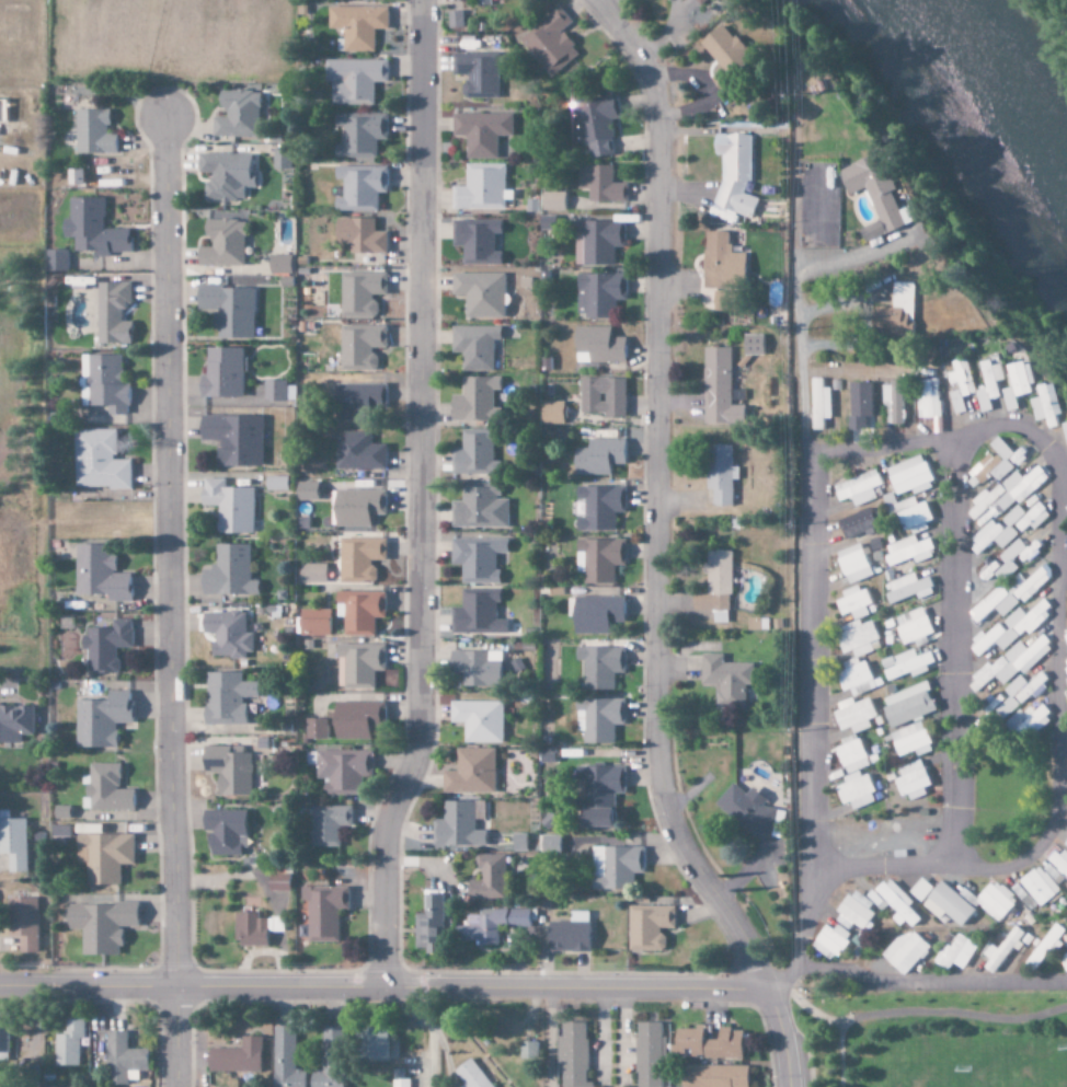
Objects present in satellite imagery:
building: (700, 1)
building: (481, 2)
building: (454, 19)
building: (355, 26)
building: (549, 43)
building: (722, 53)
building: (475, 74)
building: (353, 80)
river: (973, 101)
building: (237, 115)
building: (592, 124)
building: (92, 132)
building: (480, 132)
building: (358, 136)
building: (280, 159)
building: (735, 173)
building: (223, 176)
building: (598, 184)
building: (358, 187)
building: (479, 187)
building: (881, 196)
building: (551, 201)
building: (92, 228)
building: (358, 235)
building: (475, 241)
building: (596, 242)
building: (221, 244)
building: (56, 261)
building: (721, 263)
building: (278, 265)
road: (802, 292)
building: (359, 293)
building: (597, 293)
building: (479, 294)
building: (725, 304)
building: (227, 310)
building: (902, 312)
building: (112, 313)
building: (753, 345)
building: (359, 346)
building: (473, 346)
building: (596, 346)
building: (220, 373)
building: (966, 384)
building: (1025, 384)
building: (996, 385)
building: (719, 389)
building: (275, 391)
building: (600, 396)
building: (357, 400)
building: (473, 400)
building: (933, 400)
building: (897, 402)
building: (821, 404)
building: (862, 405)
building: (1053, 406)
building: (551, 413)
road: (940, 438)
building: (233, 439)
building: (357, 452)
building: (473, 453)
building: (598, 456)
building: (99, 461)
building: (1002, 462)
building: (719, 474)
building: (911, 477)
building: (276, 483)
building: (858, 489)
building: (305, 492)
road: (416, 495)
road: (654, 499)
building: (228, 506)
building: (356, 507)
building: (479, 507)
building: (598, 507)
building: (993, 509)
building: (911, 516)
building: (856, 524)
building: (908, 551)
building: (1016, 557)
building: (358, 558)
building: (475, 559)
building: (598, 559)
road: (1065, 559)
building: (853, 565)
building: (229, 573)
building: (99, 574)
building: (312, 574)
building: (714, 587)
building: (907, 589)
building: (1018, 591)
road: (167, 603)
building: (853, 603)
building: (359, 612)
building: (477, 613)
building: (595, 614)
building: (313, 622)
building: (756, 624)
building: (913, 627)
building: (1013, 628)
building: (227, 634)
building: (858, 638)
building: (104, 646)
road: (953, 652)
building: (1012, 663)
building: (358, 666)
building: (906, 666)
building: (599, 667)
building: (474, 669)
building: (857, 678)
building: (724, 680)
building: (1028, 689)
building: (225, 698)
building: (907, 706)
building: (1003, 706)
building: (853, 716)
building: (101, 719)
building: (356, 719)
building: (598, 719)
building: (478, 720)
building: (1029, 722)
building: (14, 724)
road: (806, 726)
building: (314, 729)
building: (910, 741)
building: (852, 755)
building: (228, 770)
road: (1057, 770)
building: (342, 771)
building: (470, 773)
building: (911, 780)
building: (105, 789)
building: (856, 791)
building: (597, 794)
building: (745, 810)
building: (328, 824)
building: (456, 826)
building: (223, 832)
building: (518, 843)
building: (14, 844)
building: (549, 844)
building: (103, 857)
building: (1059, 863)
building: (615, 867)
building: (1053, 872)
building: (486, 879)
building: (276, 882)
building: (1039, 887)
building: (920, 890)
building: (995, 901)
building: (897, 904)
building: (948, 905)
building: (323, 913)
building: (854, 913)
building: (22, 923)
building: (428, 924)
building: (491, 925)
building: (100, 926)
building: (647, 927)
building: (249, 929)
building: (566, 937)
building: (830, 941)
building: (1001, 951)
building: (905, 952)
building: (954, 953)
road: (383, 984)
road: (927, 984)
road: (802, 1008)
road: (920, 1011)
park: (928, 1037)
road: (780, 1038)
building: (3, 1042)
building: (686, 1042)
building: (69, 1044)
building: (371, 1044)
building: (724, 1045)
road: (803, 1050)
building: (571, 1055)
building: (649, 1055)
building: (236, 1057)
building: (329, 1059)
building: (123, 1060)
building: (284, 1060)
park: (974, 1064)
building: (470, 1075)
building: (712, 1076)

